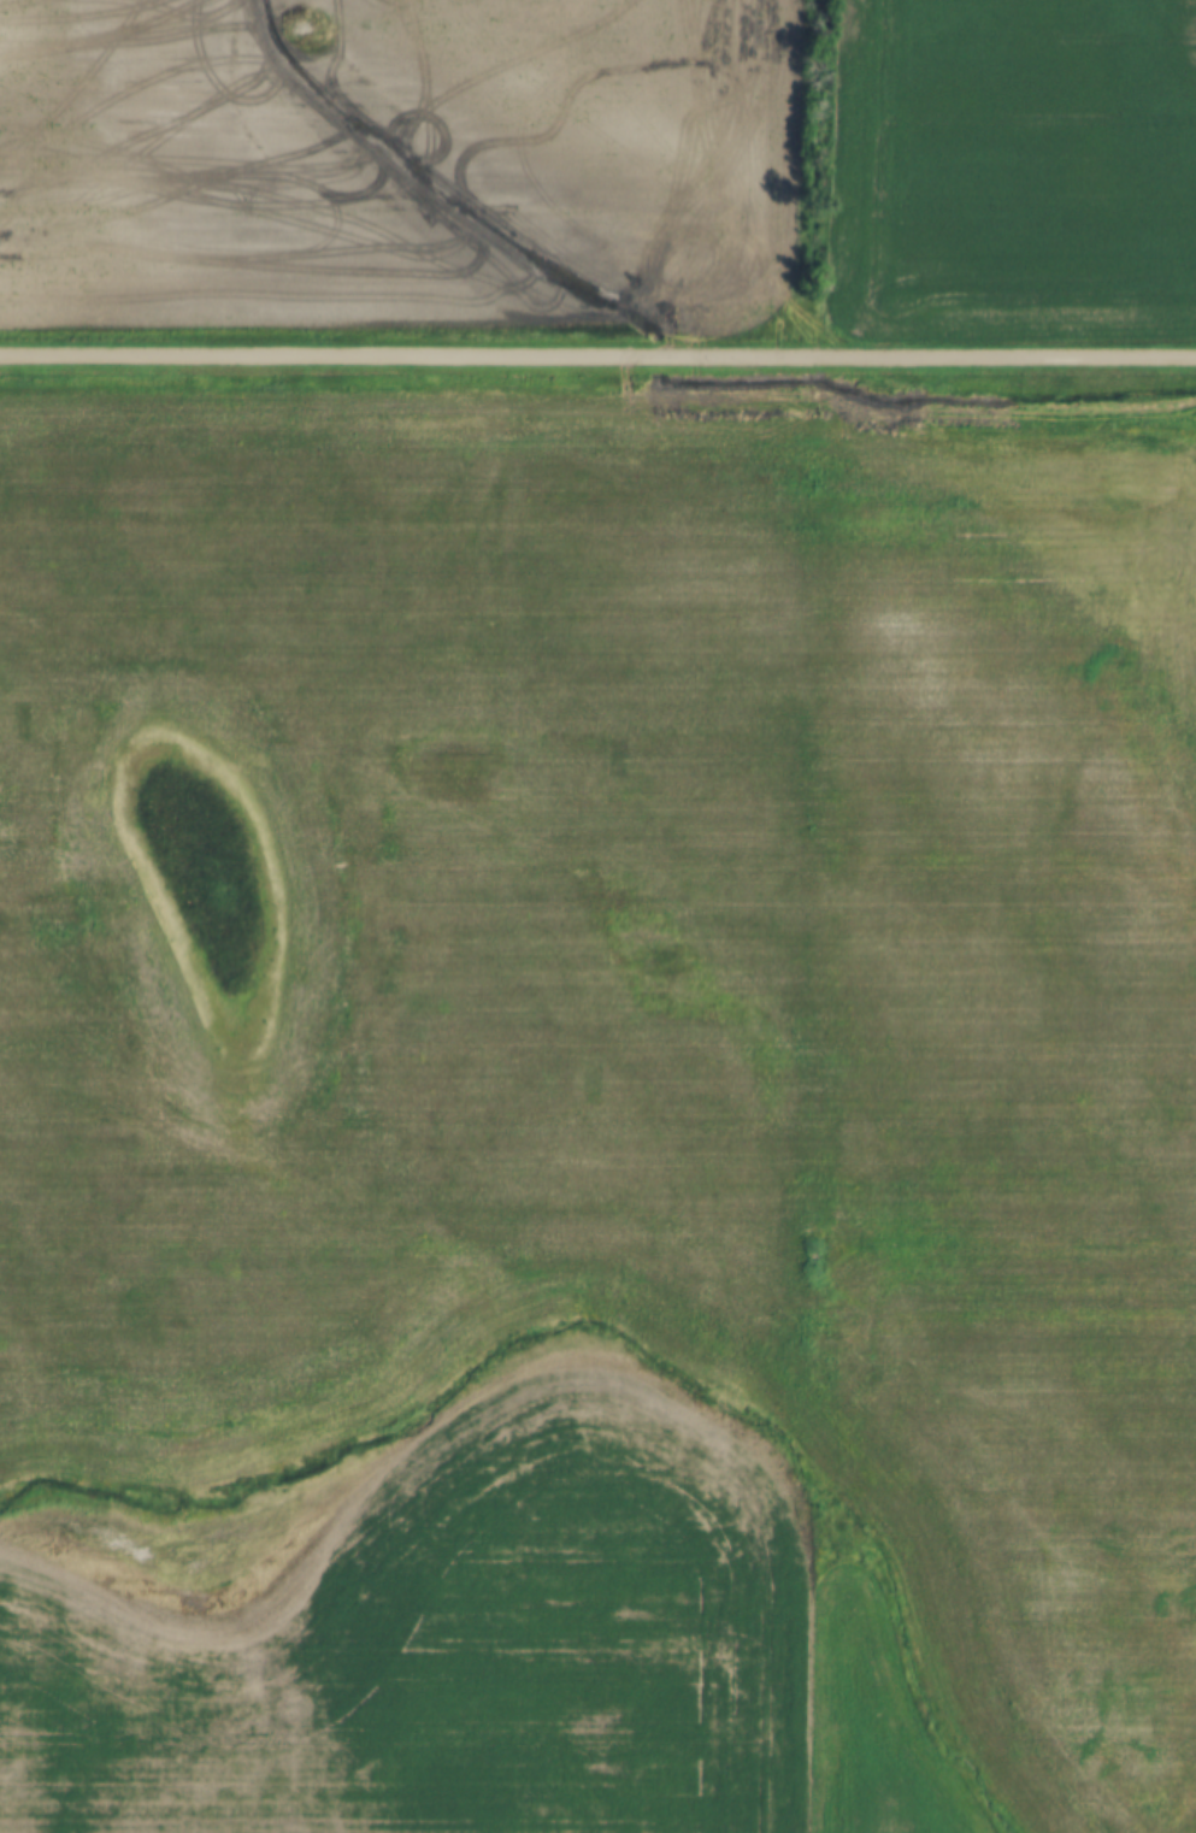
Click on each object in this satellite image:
road: (597, 354)

